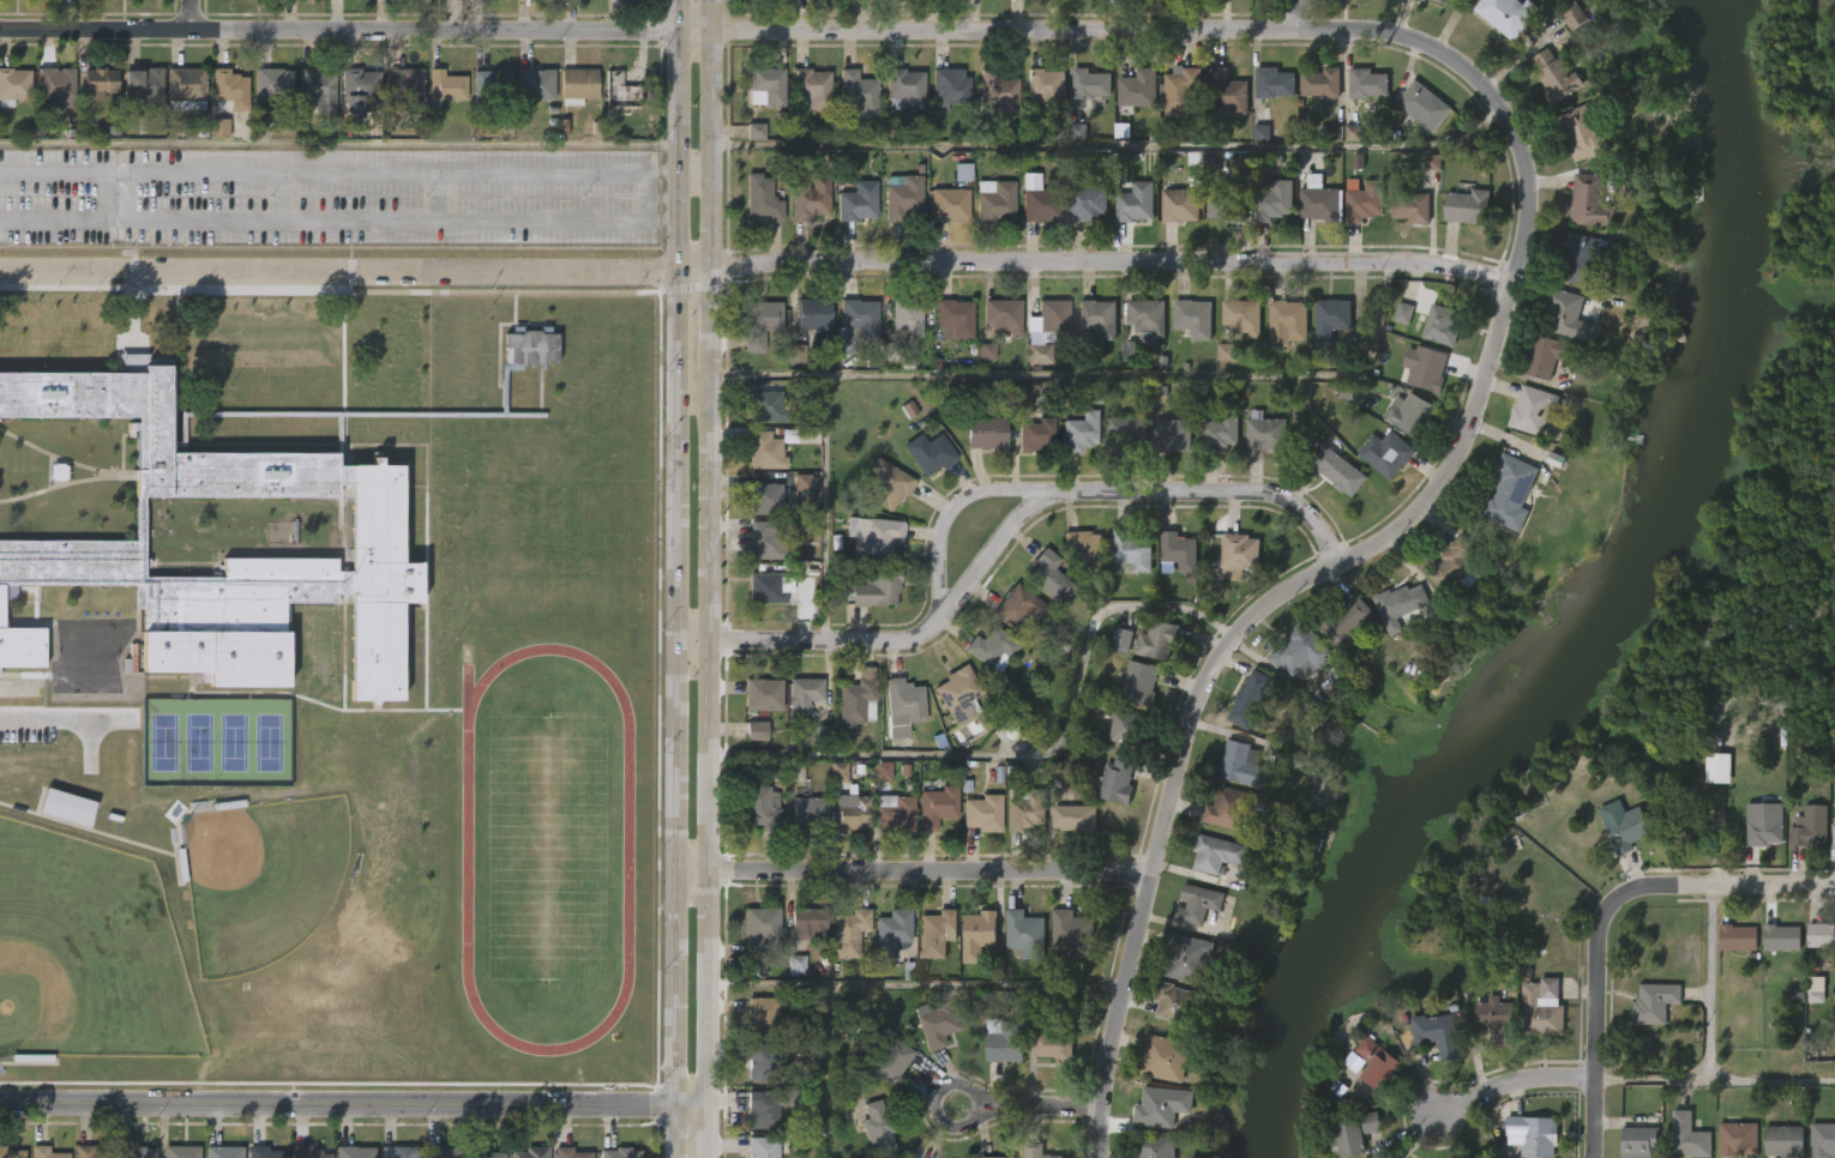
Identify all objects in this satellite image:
building: (1437, 1)
building: (1572, 13)
building: (1505, 14)
road: (191, 16)
road: (1306, 16)
road: (652, 30)
building: (1554, 76)
building: (142, 83)
building: (1275, 83)
building: (1323, 83)
building: (1365, 83)
building: (98, 84)
building: (1091, 84)
building: (14, 85)
building: (445, 85)
building: (492, 85)
building: (578, 85)
road: (676, 85)
building: (770, 85)
building: (55, 86)
building: (404, 86)
building: (533, 86)
road: (712, 86)
building: (186, 88)
building: (272, 88)
building: (906, 88)
building: (1048, 88)
building: (812, 89)
building: (950, 89)
building: (229, 90)
building: (621, 90)
building: (1138, 90)
building: (1227, 90)
building: (318, 91)
building: (858, 91)
building: (359, 92)
building: (1181, 92)
building: (999, 94)
building: (1421, 105)
building: (219, 128)
building: (756, 131)
building: (1078, 132)
building: (1261, 132)
building: (1330, 133)
building: (1353, 133)
building: (1582, 133)
road: (1114, 147)
building: (1432, 162)
road: (338, 170)
building: (963, 171)
road: (694, 173)
road: (279, 194)
road: (435, 195)
building: (903, 195)
road: (648, 197)
building: (807, 197)
building: (760, 198)
building: (856, 199)
building: (1274, 199)
building: (1361, 199)
building: (997, 200)
building: (1319, 200)
building: (1589, 200)
building: (1085, 203)
building: (1137, 203)
building: (1041, 204)
building: (950, 205)
building: (1180, 205)
building: (1228, 206)
building: (1467, 206)
building: (1410, 207)
road: (338, 218)
road: (712, 222)
road: (678, 223)
building: (1581, 258)
road: (756, 264)
building: (1403, 313)
building: (811, 314)
building: (904, 315)
building: (1000, 315)
building: (1240, 315)
building: (1566, 315)
building: (1145, 316)
building: (1096, 318)
building: (1191, 318)
road: (712, 319)
building: (856, 319)
building: (952, 319)
building: (1329, 321)
building: (1284, 322)
building: (760, 324)
building: (1437, 325)
building: (1045, 330)
building: (1130, 350)
building: (987, 351)
building: (1225, 352)
building: (799, 355)
building: (1548, 355)
building: (1424, 367)
road: (1093, 375)
building: (1024, 394)
building: (768, 405)
building: (1532, 410)
building: (1412, 412)
building: (1079, 430)
building: (1219, 430)
building: (985, 433)
building: (1125, 433)
building: (1264, 433)
building: (1034, 434)
building: (1169, 435)
building: (768, 447)
building: (927, 453)
building: (1385, 453)
building: (1335, 470)
building: (802, 482)
building: (885, 484)
building: (1511, 493)
road: (971, 495)
building: (764, 499)
road: (823, 507)
building: (375, 517)
building: (872, 536)
building: (763, 539)
road: (1374, 542)
building: (1083, 550)
building: (1130, 551)
building: (1178, 551)
building: (1239, 554)
road: (988, 556)
building: (1455, 567)
building: (1048, 577)
building: (765, 587)
building: (874, 589)
building: (1398, 607)
building: (1017, 608)
building: (1343, 623)
building: (1118, 640)
building: (1154, 640)
building: (22, 645)
building: (989, 646)
building: (1299, 651)
building: (1342, 675)
building: (1137, 684)
building: (760, 694)
building: (956, 694)
building: (801, 695)
building: (907, 698)
building: (854, 699)
building: (1251, 699)
road: (60, 716)
road: (674, 716)
building: (1010, 728)
building: (1123, 730)
building: (757, 731)
building: (824, 734)
road: (711, 736)
building: (1240, 765)
building: (795, 771)
building: (883, 771)
building: (838, 772)
building: (1117, 780)
building: (67, 807)
building: (759, 808)
building: (935, 809)
building: (1023, 809)
building: (1232, 810)
building: (806, 812)
building: (894, 814)
building: (981, 814)
building: (850, 815)
building: (1075, 819)
building: (1764, 825)
building: (1809, 827)
building: (1629, 830)
building: (1834, 831)
building: (1215, 854)
road: (914, 870)
road: (1725, 886)
building: (1196, 904)
building: (811, 922)
building: (757, 928)
building: (850, 931)
building: (937, 931)
building: (892, 933)
building: (977, 933)
building: (1023, 933)
building: (1071, 933)
building: (1821, 934)
building: (1735, 936)
building: (1781, 936)
building: (1189, 957)
building: (796, 965)
road: (919, 984)
road: (1709, 984)
building: (1816, 989)
building: (1173, 1002)
building: (1654, 1002)
building: (1540, 1008)
building: (760, 1018)
building: (1494, 1018)
building: (935, 1021)
road: (1596, 1024)
building: (1434, 1033)
building: (1003, 1039)
building: (1053, 1044)
building: (1162, 1056)
building: (888, 1057)
building: (760, 1060)
building: (1376, 1062)
road: (824, 1072)
road: (1714, 1081)
road: (1512, 1084)
road: (1031, 1104)
road: (355, 1105)
building: (1162, 1106)
building: (769, 1108)
building: (1370, 1122)
building: (879, 1128)
road: (712, 1130)
building: (1347, 1135)
building: (1533, 1135)
building: (1689, 1135)
building: (1737, 1138)
building: (1822, 1139)
building: (1640, 1140)
building: (1783, 1140)
building: (1154, 1146)
building: (760, 1147)
building: (1035, 1151)
building: (48, 1152)
building: (94, 1152)
building: (140, 1152)
building: (182, 1152)
building: (224, 1152)
building: (265, 1152)
building: (307, 1152)
building: (355, 1152)
building: (398, 1152)
building: (441, 1152)
building: (481, 1152)
building: (533, 1152)
building: (13, 1153)
building: (570, 1153)
building: (621, 1153)
building: (991, 1157)

